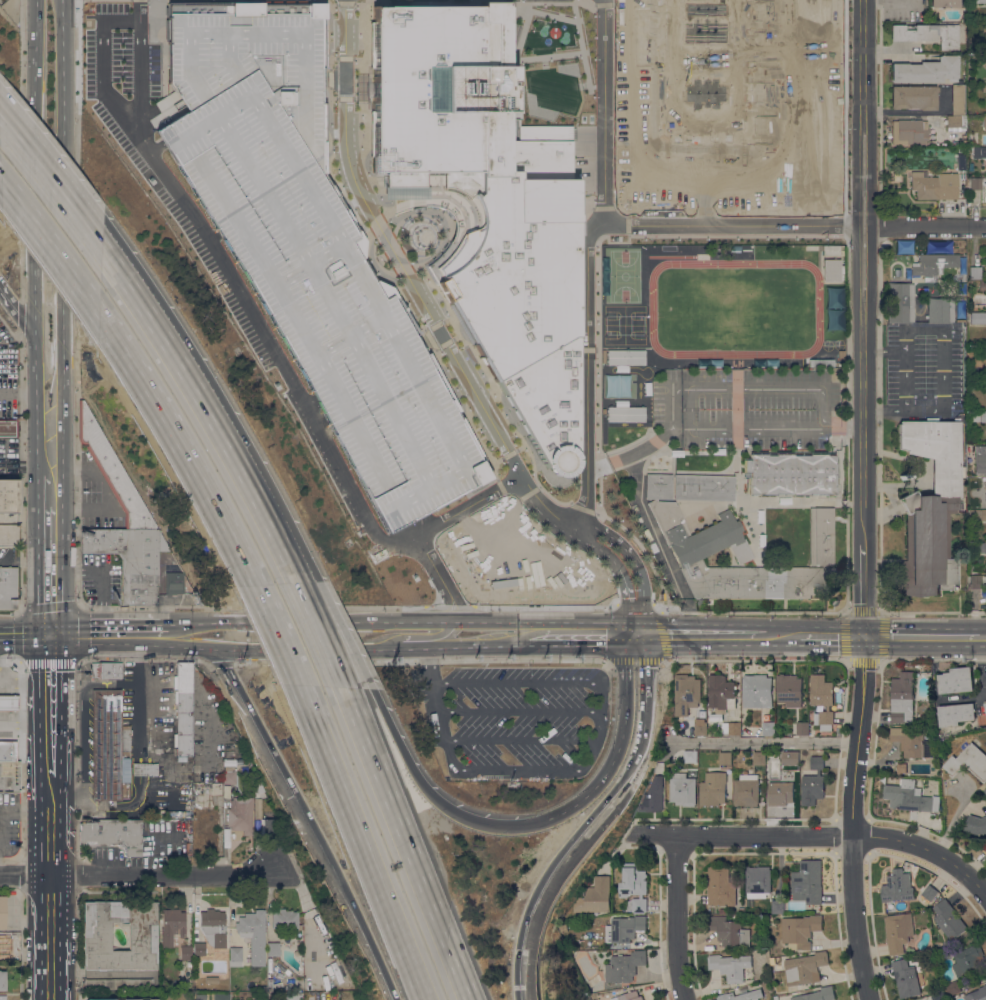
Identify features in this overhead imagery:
road: (892, 0)
building: (979, 1)
building: (944, 3)
road: (226, 15)
building: (983, 29)
building: (927, 34)
road: (889, 50)
building: (927, 70)
building: (984, 88)
building: (914, 97)
building: (958, 100)
building: (728, 103)
road: (914, 111)
road: (912, 117)
building: (984, 121)
building: (956, 122)
building: (909, 132)
building: (962, 138)
building: (961, 150)
building: (979, 151)
road: (37, 163)
road: (63, 167)
building: (975, 183)
road: (51, 185)
building: (934, 185)
building: (485, 202)
road: (584, 221)
road: (728, 225)
road: (926, 229)
road: (49, 241)
building: (698, 248)
building: (307, 250)
building: (933, 265)
building: (832, 270)
building: (974, 272)
building: (982, 285)
parking lot: (355, 298)
building: (900, 302)
building: (940, 309)
road: (16, 310)
road: (866, 318)
building: (978, 318)
road: (255, 320)
building: (833, 321)
road: (444, 343)
building: (984, 351)
building: (841, 355)
building: (626, 357)
road: (175, 360)
road: (36, 363)
building: (821, 363)
road: (64, 366)
road: (584, 373)
building: (614, 385)
building: (978, 385)
road: (25, 396)
road: (679, 396)
building: (626, 413)
building: (973, 416)
building: (983, 416)
road: (846, 424)
building: (8, 428)
road: (51, 433)
road: (182, 441)
building: (985, 451)
road: (20, 470)
building: (113, 473)
building: (791, 475)
building: (659, 486)
building: (704, 487)
road: (51, 490)
building: (985, 490)
road: (105, 491)
building: (8, 495)
road: (466, 507)
building: (930, 508)
building: (983, 514)
building: (973, 515)
road: (267, 528)
road: (276, 528)
building: (8, 535)
building: (821, 536)
building: (979, 547)
building: (693, 552)
building: (130, 560)
road: (52, 570)
building: (171, 573)
road: (102, 579)
building: (975, 582)
building: (7, 587)
road: (452, 594)
road: (457, 611)
road: (400, 620)
road: (487, 620)
road: (206, 621)
road: (298, 621)
road: (228, 629)
road: (527, 629)
road: (451, 633)
road: (318, 634)
road: (110, 635)
road: (277, 635)
road: (26, 636)
traffic signals: (52, 636)
road: (342, 636)
road: (585, 637)
traffic signals: (638, 637)
road: (703, 637)
road: (786, 637)
road: (835, 637)
traffic signals: (866, 637)
road: (922, 637)
road: (982, 638)
road: (527, 641)
road: (662, 641)
road: (192, 644)
road: (333, 646)
road: (486, 646)
road: (24, 661)
road: (420, 661)
road: (220, 662)
road: (648, 664)
road: (428, 666)
road: (625, 668)
building: (110, 669)
building: (956, 680)
road: (517, 681)
road: (50, 690)
building: (757, 690)
building: (790, 690)
road: (936, 691)
road: (76, 692)
building: (686, 693)
building: (721, 693)
road: (602, 694)
building: (822, 697)
building: (902, 697)
building: (8, 702)
building: (985, 703)
building: (183, 709)
road: (519, 709)
building: (956, 714)
road: (84, 717)
parking lot: (514, 718)
road: (144, 723)
road: (439, 723)
road: (600, 724)
road: (7, 728)
building: (701, 728)
building: (731, 728)
building: (769, 728)
building: (802, 728)
building: (691, 730)
building: (746, 731)
road: (642, 736)
road: (857, 736)
road: (520, 738)
building: (913, 743)
road: (765, 744)
building: (109, 747)
road: (140, 753)
road: (144, 753)
road: (592, 756)
building: (690, 756)
building: (725, 758)
building: (759, 758)
building: (790, 758)
building: (968, 762)
road: (50, 764)
road: (137, 768)
building: (143, 768)
road: (145, 768)
road: (515, 768)
building: (914, 768)
road: (603, 774)
building: (229, 775)
building: (8, 777)
road: (284, 777)
building: (257, 780)
road: (139, 783)
road: (143, 783)
building: (813, 783)
building: (714, 788)
building: (985, 789)
building: (682, 790)
building: (746, 790)
building: (0, 791)
building: (780, 793)
building: (653, 794)
road: (430, 795)
road: (613, 795)
building: (257, 796)
building: (910, 797)
building: (257, 808)
road: (101, 810)
road: (0, 813)
building: (241, 813)
building: (976, 824)
road: (51, 827)
building: (269, 828)
building: (112, 834)
road: (744, 835)
road: (405, 843)
road: (360, 844)
road: (570, 848)
building: (985, 848)
road: (926, 852)
road: (139, 872)
building: (758, 881)
building: (808, 882)
building: (898, 886)
building: (720, 887)
building: (634, 888)
building: (930, 892)
building: (595, 896)
road: (51, 902)
building: (778, 907)
building: (722, 910)
building: (741, 910)
building: (2, 912)
road: (676, 917)
building: (285, 919)
road: (852, 919)
building: (948, 920)
building: (172, 925)
building: (213, 927)
building: (624, 929)
building: (729, 931)
building: (800, 931)
building: (898, 932)
building: (253, 935)
building: (143, 936)
road: (524, 940)
building: (199, 949)
building: (273, 949)
building: (185, 952)
building: (2, 954)
road: (375, 954)
building: (235, 956)
building: (772, 959)
building: (968, 961)
road: (51, 965)
building: (624, 966)
building: (730, 966)
building: (803, 969)
building: (906, 978)
building: (3, 980)
building: (210, 980)
building: (122, 984)
building: (952, 987)
building: (259, 988)
building: (818, 994)
building: (977, 994)
building: (628, 996)
building: (742, 996)
building: (938, 996)
building: (3, 997)
building: (220, 997)
building: (127, 999)

